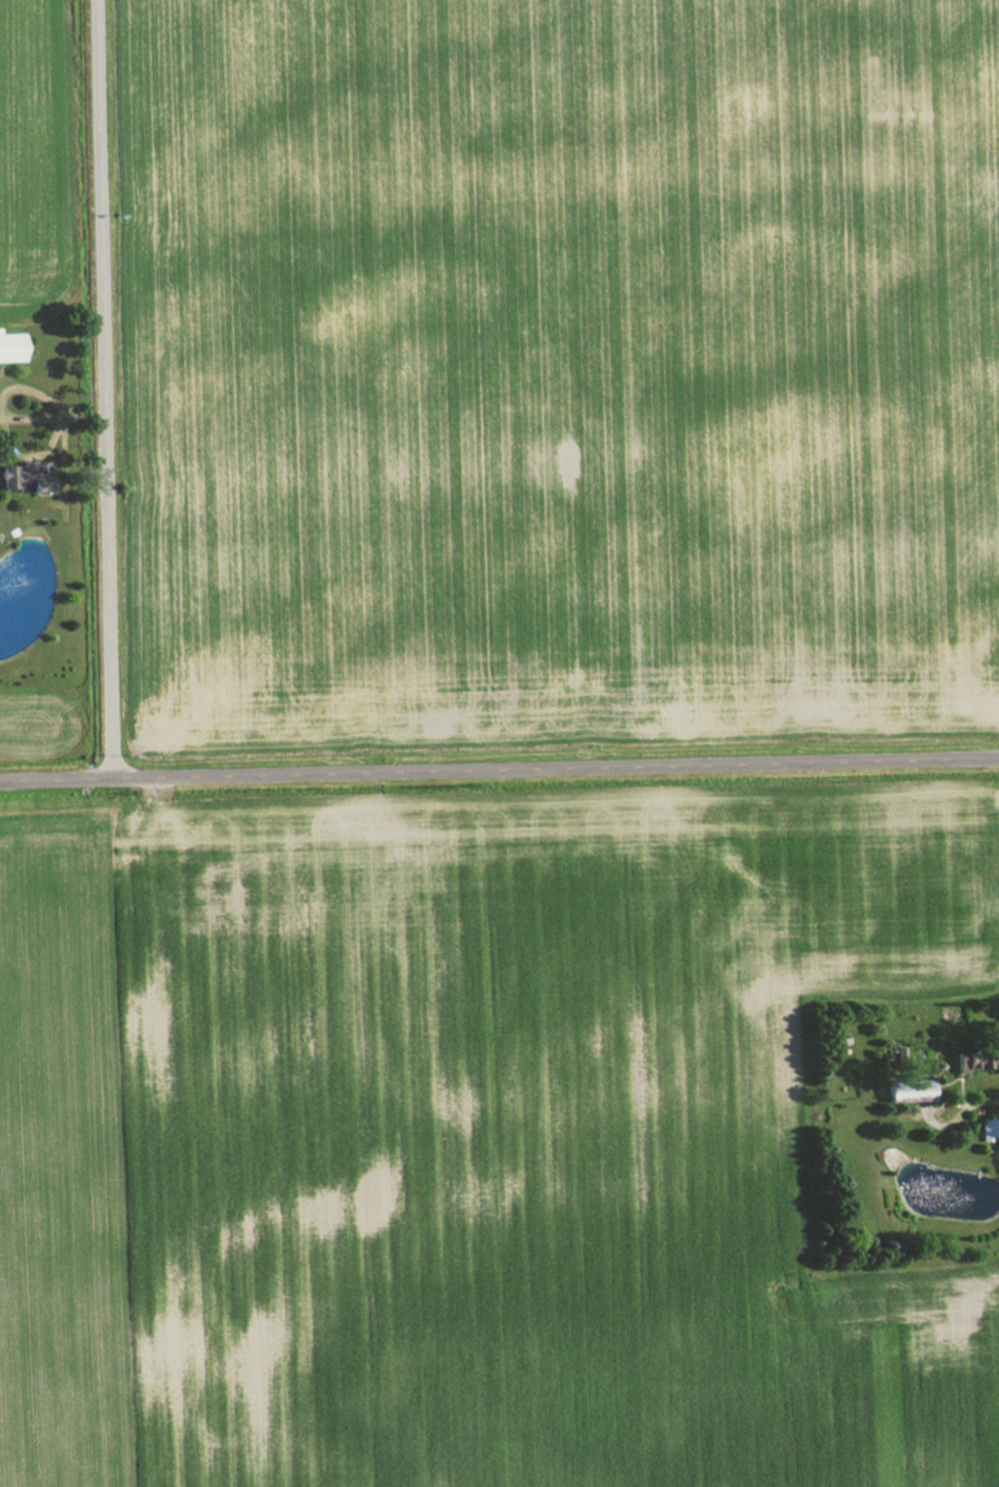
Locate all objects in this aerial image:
crop: (36, 161)
building: (10, 348)
crop: (555, 369)
road: (105, 386)
road: (499, 766)
building: (920, 1091)
crop: (464, 1144)

